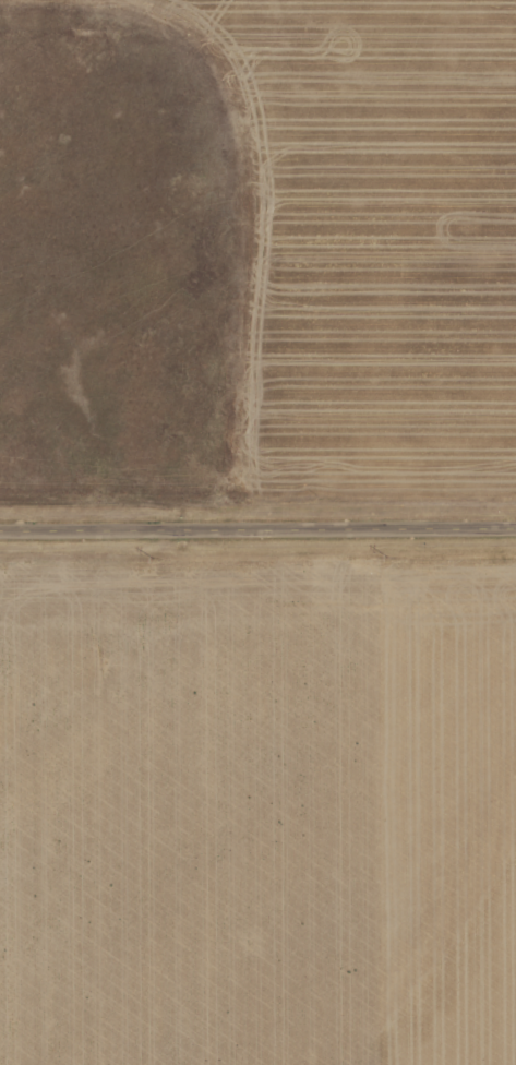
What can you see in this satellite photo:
road: (257, 537)

